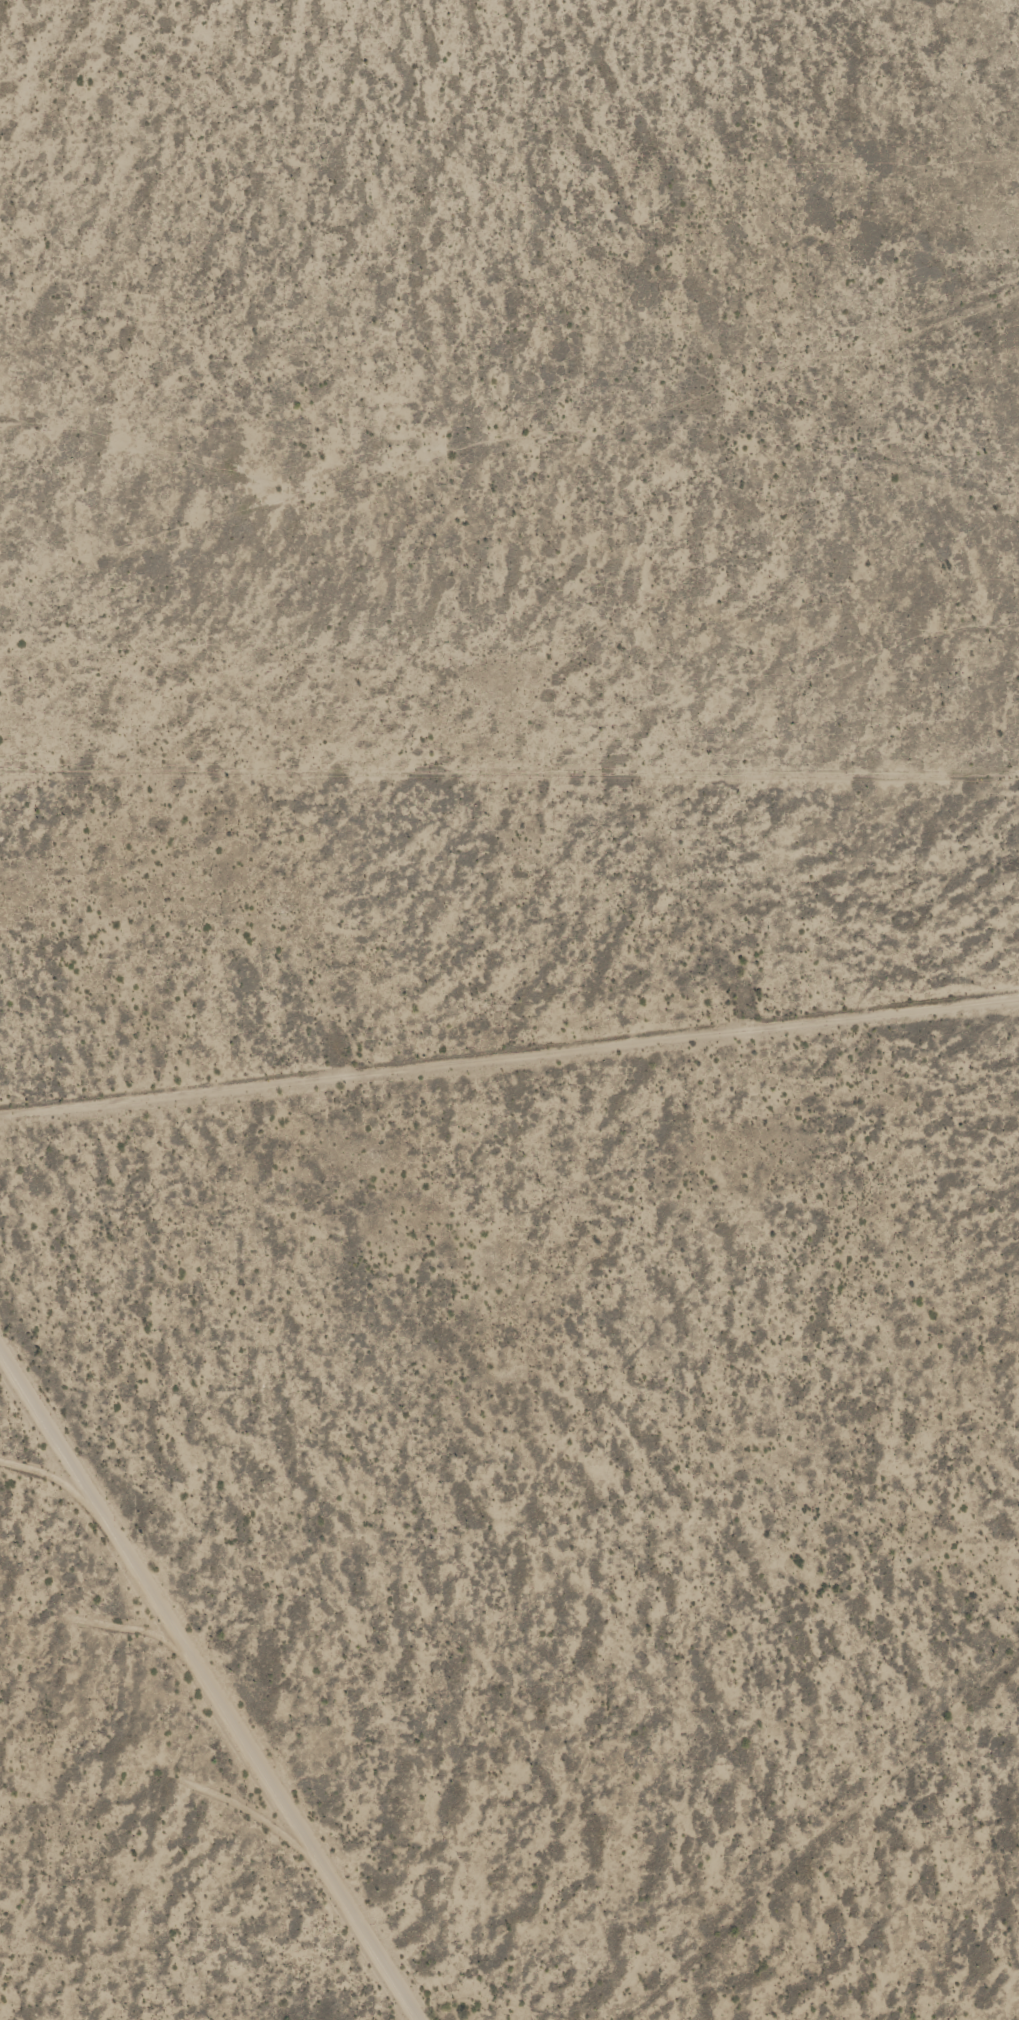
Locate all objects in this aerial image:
road: (204, 1694)

